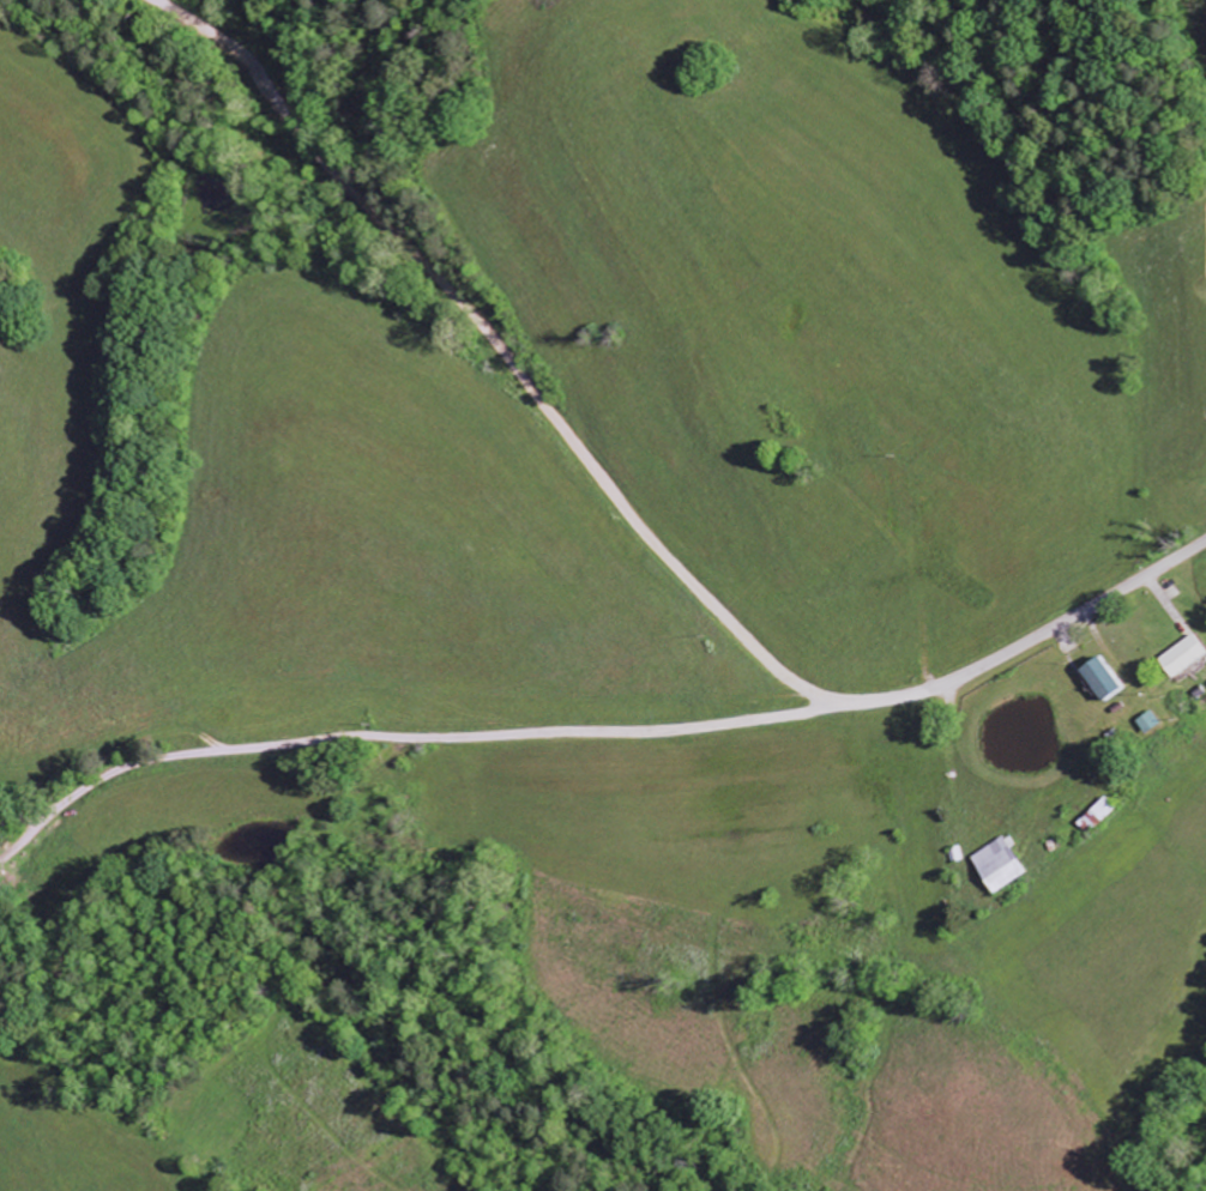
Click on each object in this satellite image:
road: (621, 507)
building: (1183, 657)
building: (1102, 679)
building: (1148, 723)
road: (427, 737)
building: (997, 866)

